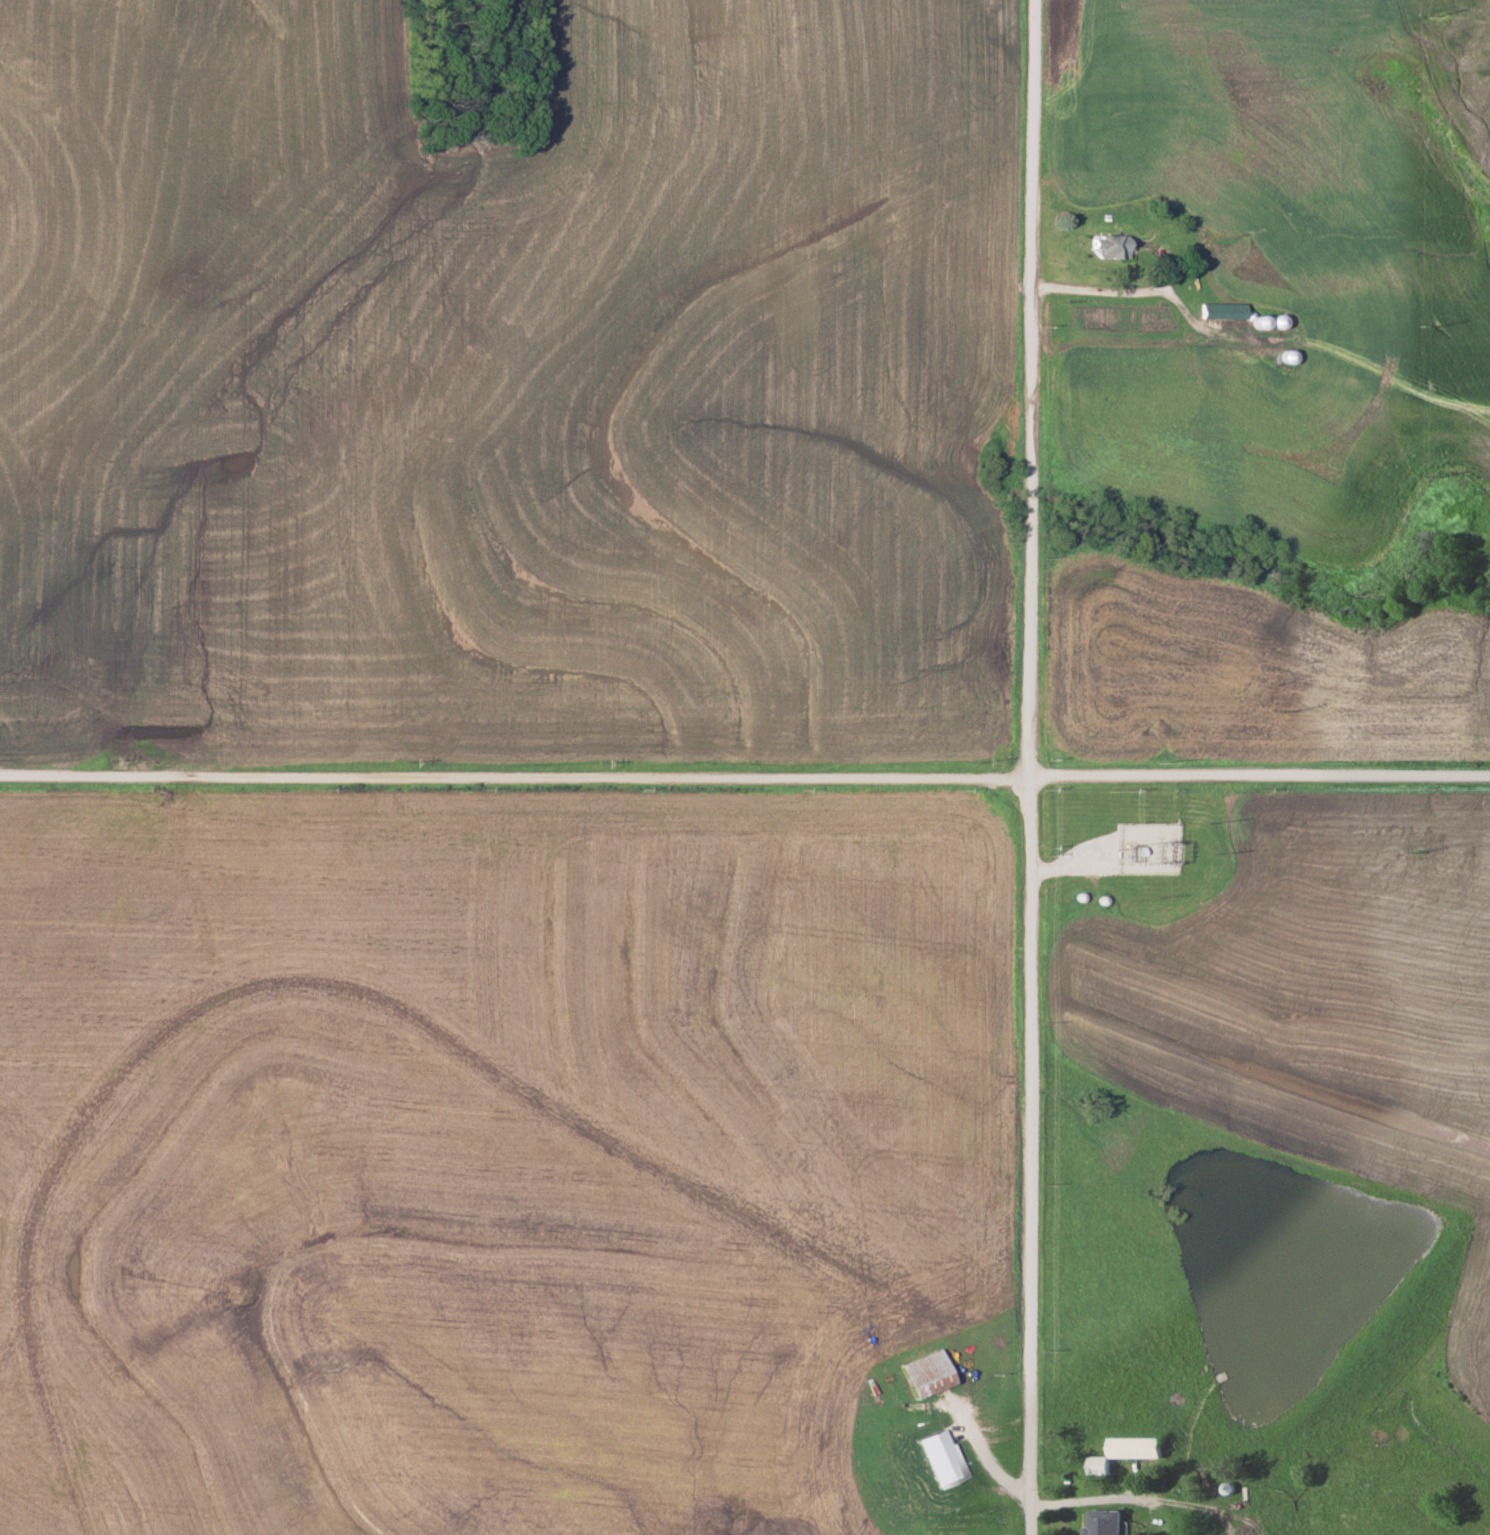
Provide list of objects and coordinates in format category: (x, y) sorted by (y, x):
building: (1105, 246)
building: (1219, 310)
building: (1275, 321)
building: (1283, 356)
crop: (642, 421)
road: (1031, 767)
road: (1260, 775)
road: (515, 779)
power substation: (1145, 846)
crop: (1318, 1003)
building: (922, 1375)
road: (966, 1445)
building: (1122, 1453)
building: (938, 1459)
road: (1134, 1502)
building: (1101, 1522)

